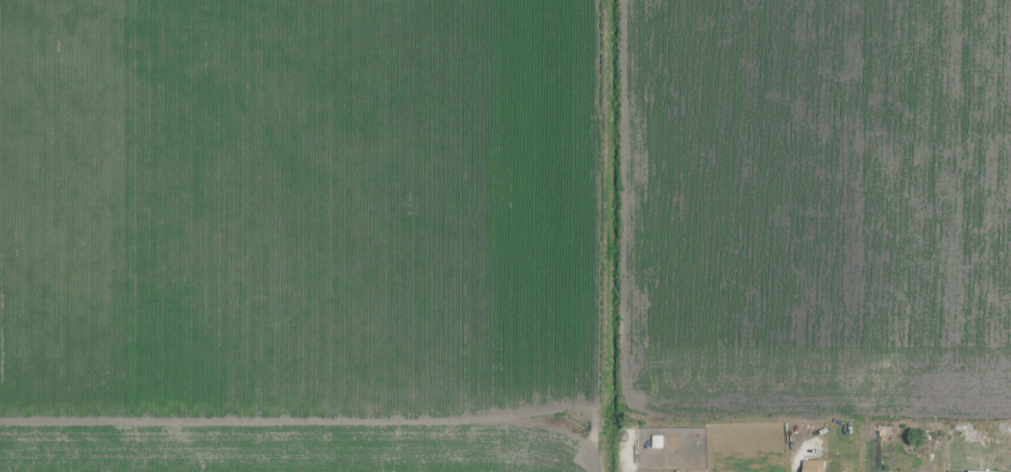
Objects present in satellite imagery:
building: (658, 442)
building: (979, 464)
building: (814, 466)

